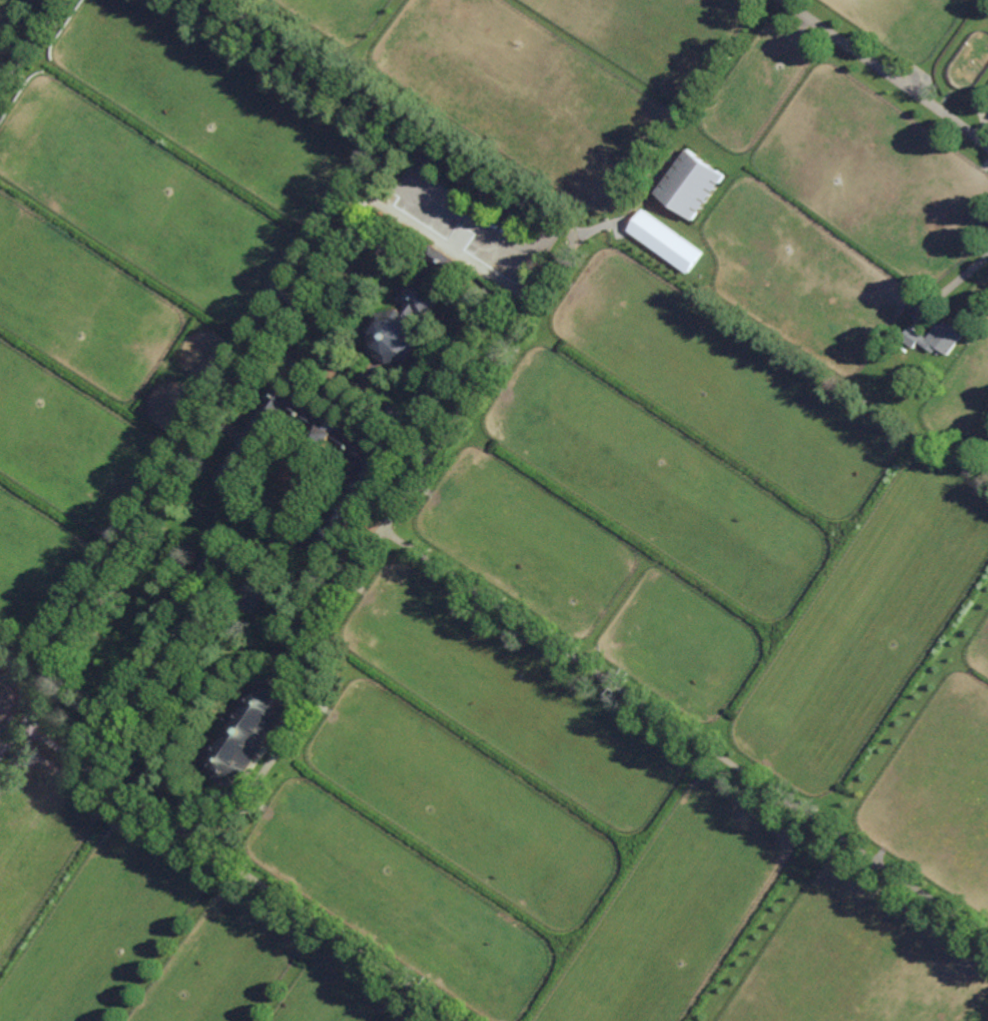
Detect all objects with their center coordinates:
road: (27, 40)
road: (886, 74)
building: (692, 182)
building: (666, 240)
road: (956, 281)
building: (411, 312)
building: (937, 336)
building: (376, 468)
road: (400, 504)
building: (246, 731)
road: (11, 736)
road: (202, 844)

